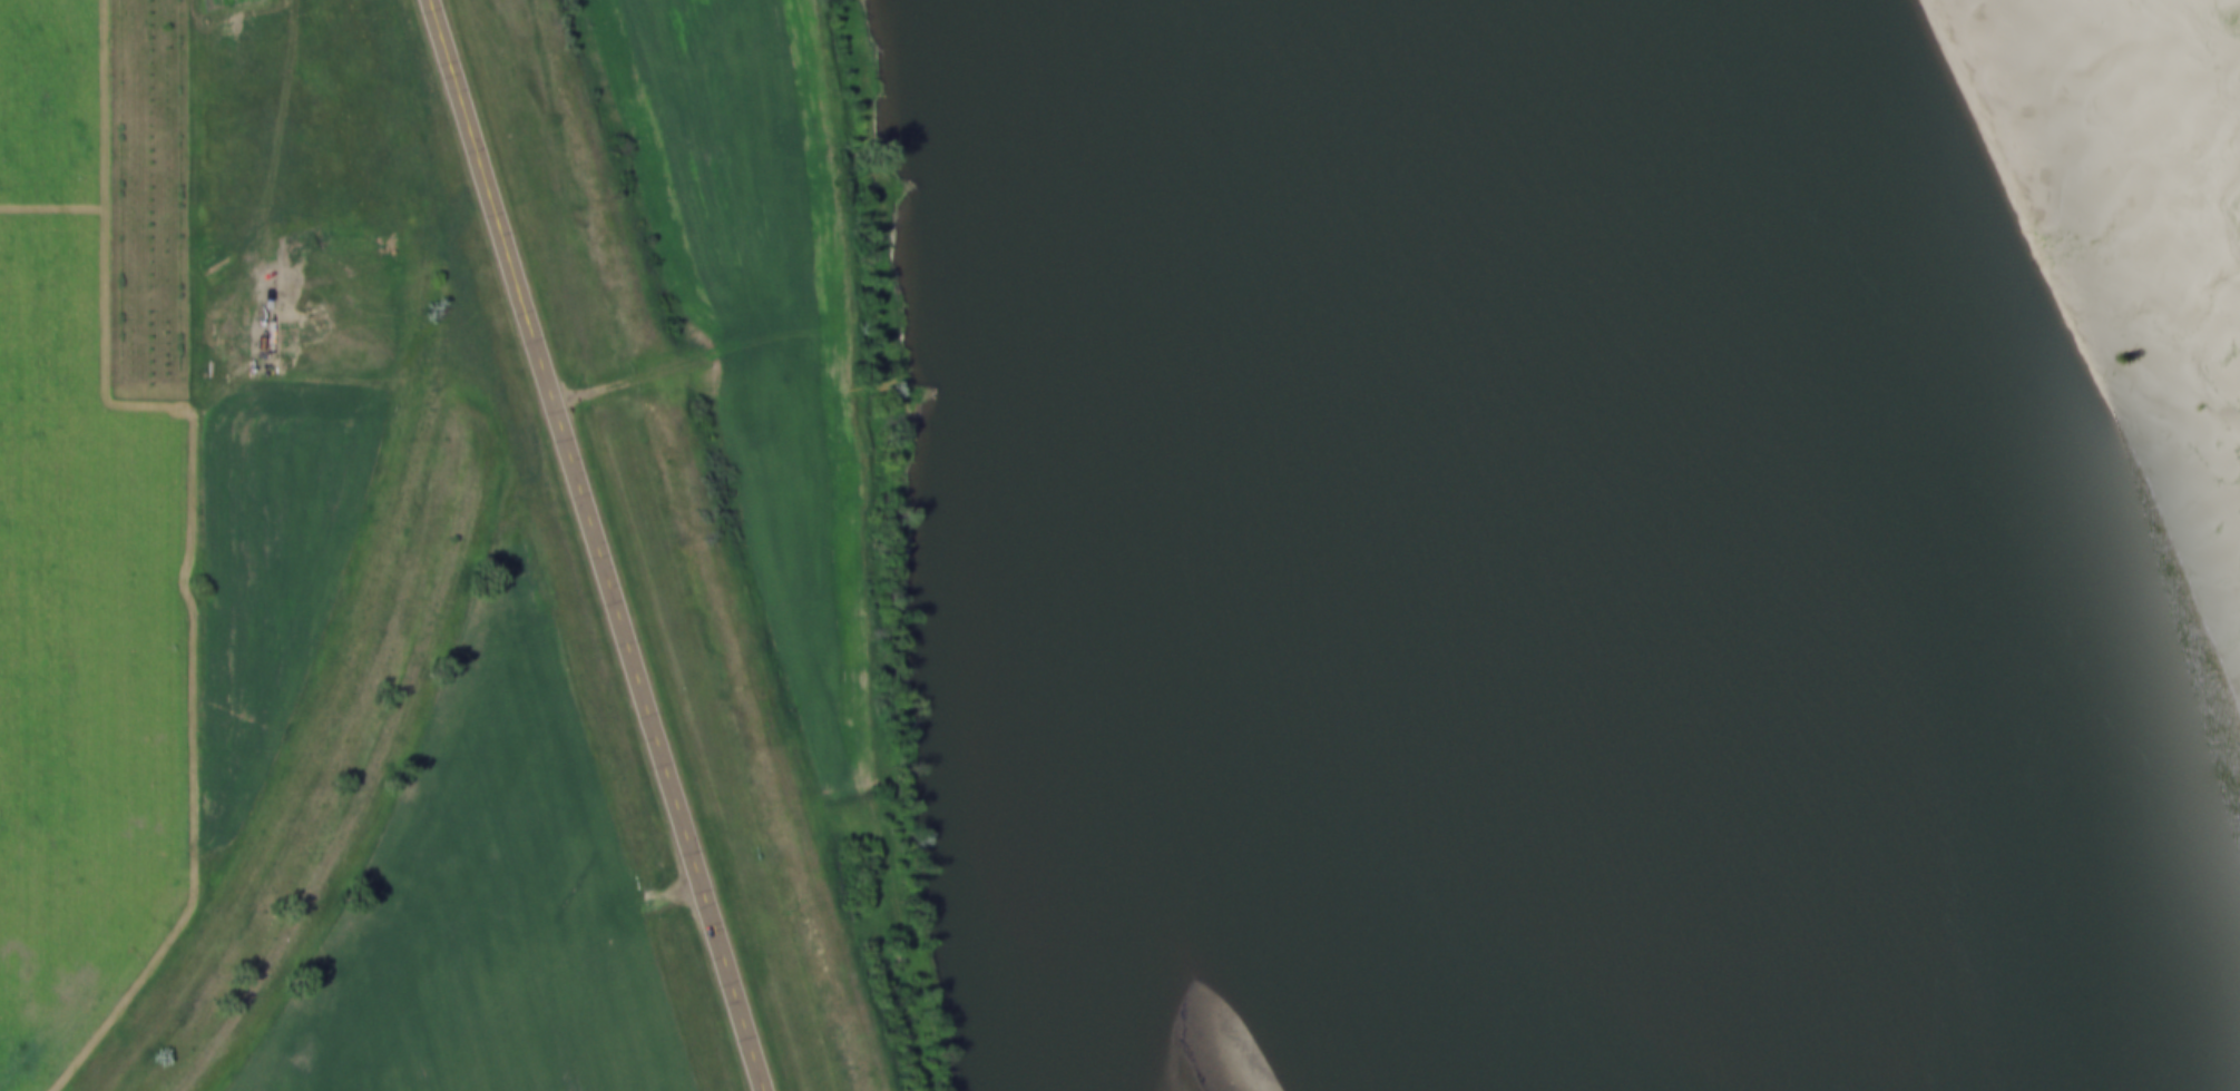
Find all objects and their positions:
road: (643, 376)
river: (1357, 543)
road: (597, 544)

